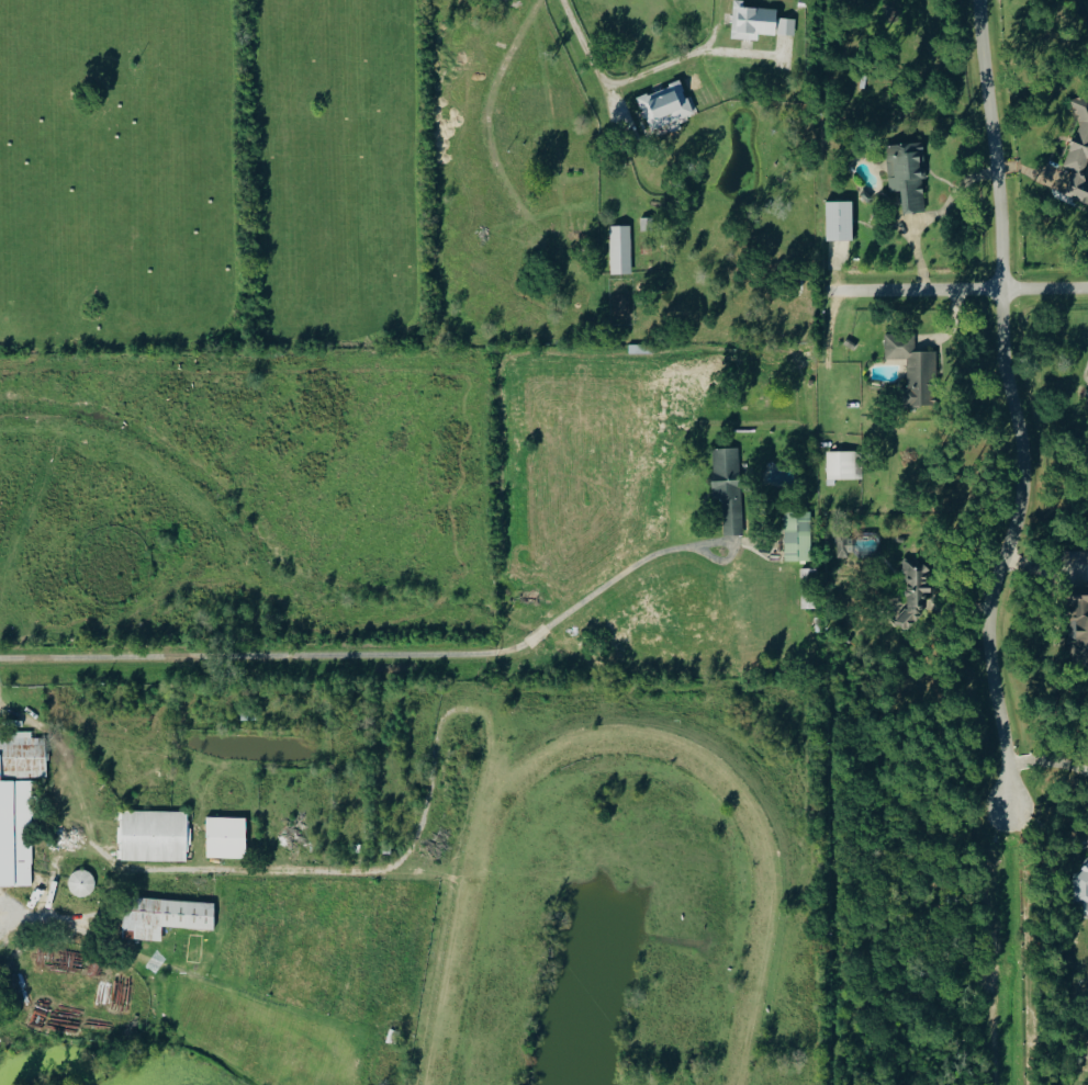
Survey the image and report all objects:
building: (760, 22)
road: (650, 69)
building: (666, 105)
road: (497, 146)
building: (1079, 154)
building: (908, 173)
crop: (213, 176)
road: (933, 215)
building: (840, 219)
building: (620, 249)
road: (962, 295)
building: (622, 303)
building: (913, 368)
building: (1087, 398)
road: (1020, 408)
building: (845, 464)
building: (729, 487)
building: (798, 535)
building: (859, 543)
building: (1076, 556)
building: (916, 591)
road: (341, 654)
building: (20, 804)
building: (154, 836)
building: (226, 837)
building: (81, 883)
building: (1083, 889)
track: (764, 894)
building: (166, 917)
road: (23, 923)

